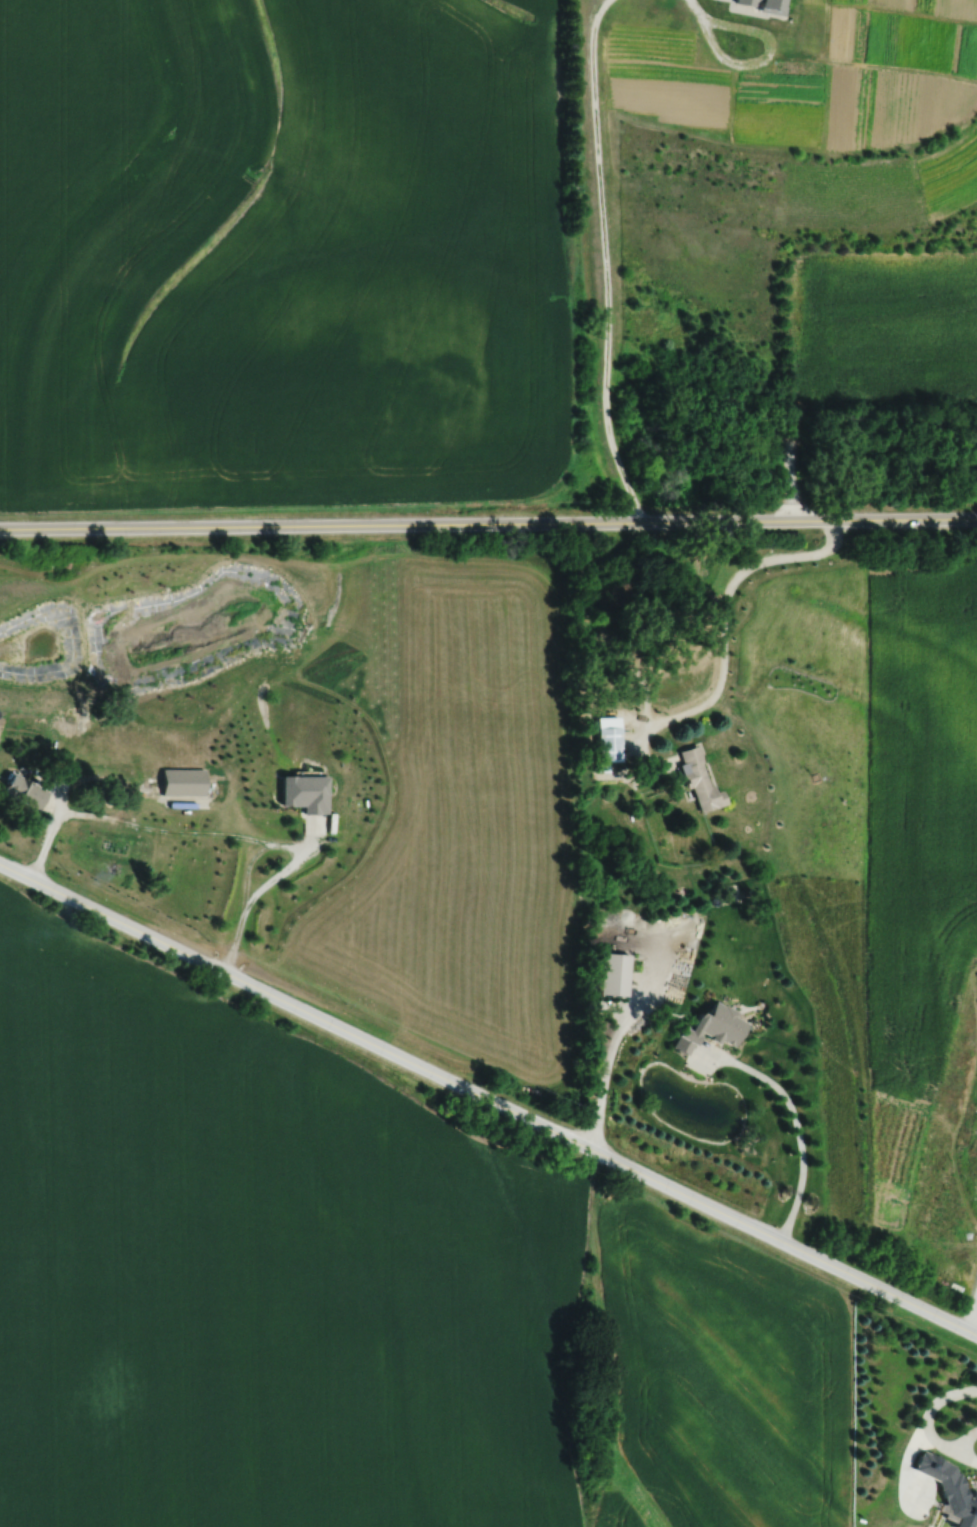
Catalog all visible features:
building: (757, 4)
road: (601, 264)
road: (488, 524)
road: (723, 625)
building: (139, 694)
building: (58, 722)
building: (605, 744)
building: (696, 780)
building: (179, 782)
building: (20, 792)
road: (216, 834)
building: (610, 976)
road: (611, 1073)
road: (489, 1100)
road: (792, 1120)
road: (969, 1304)
road: (927, 1414)

